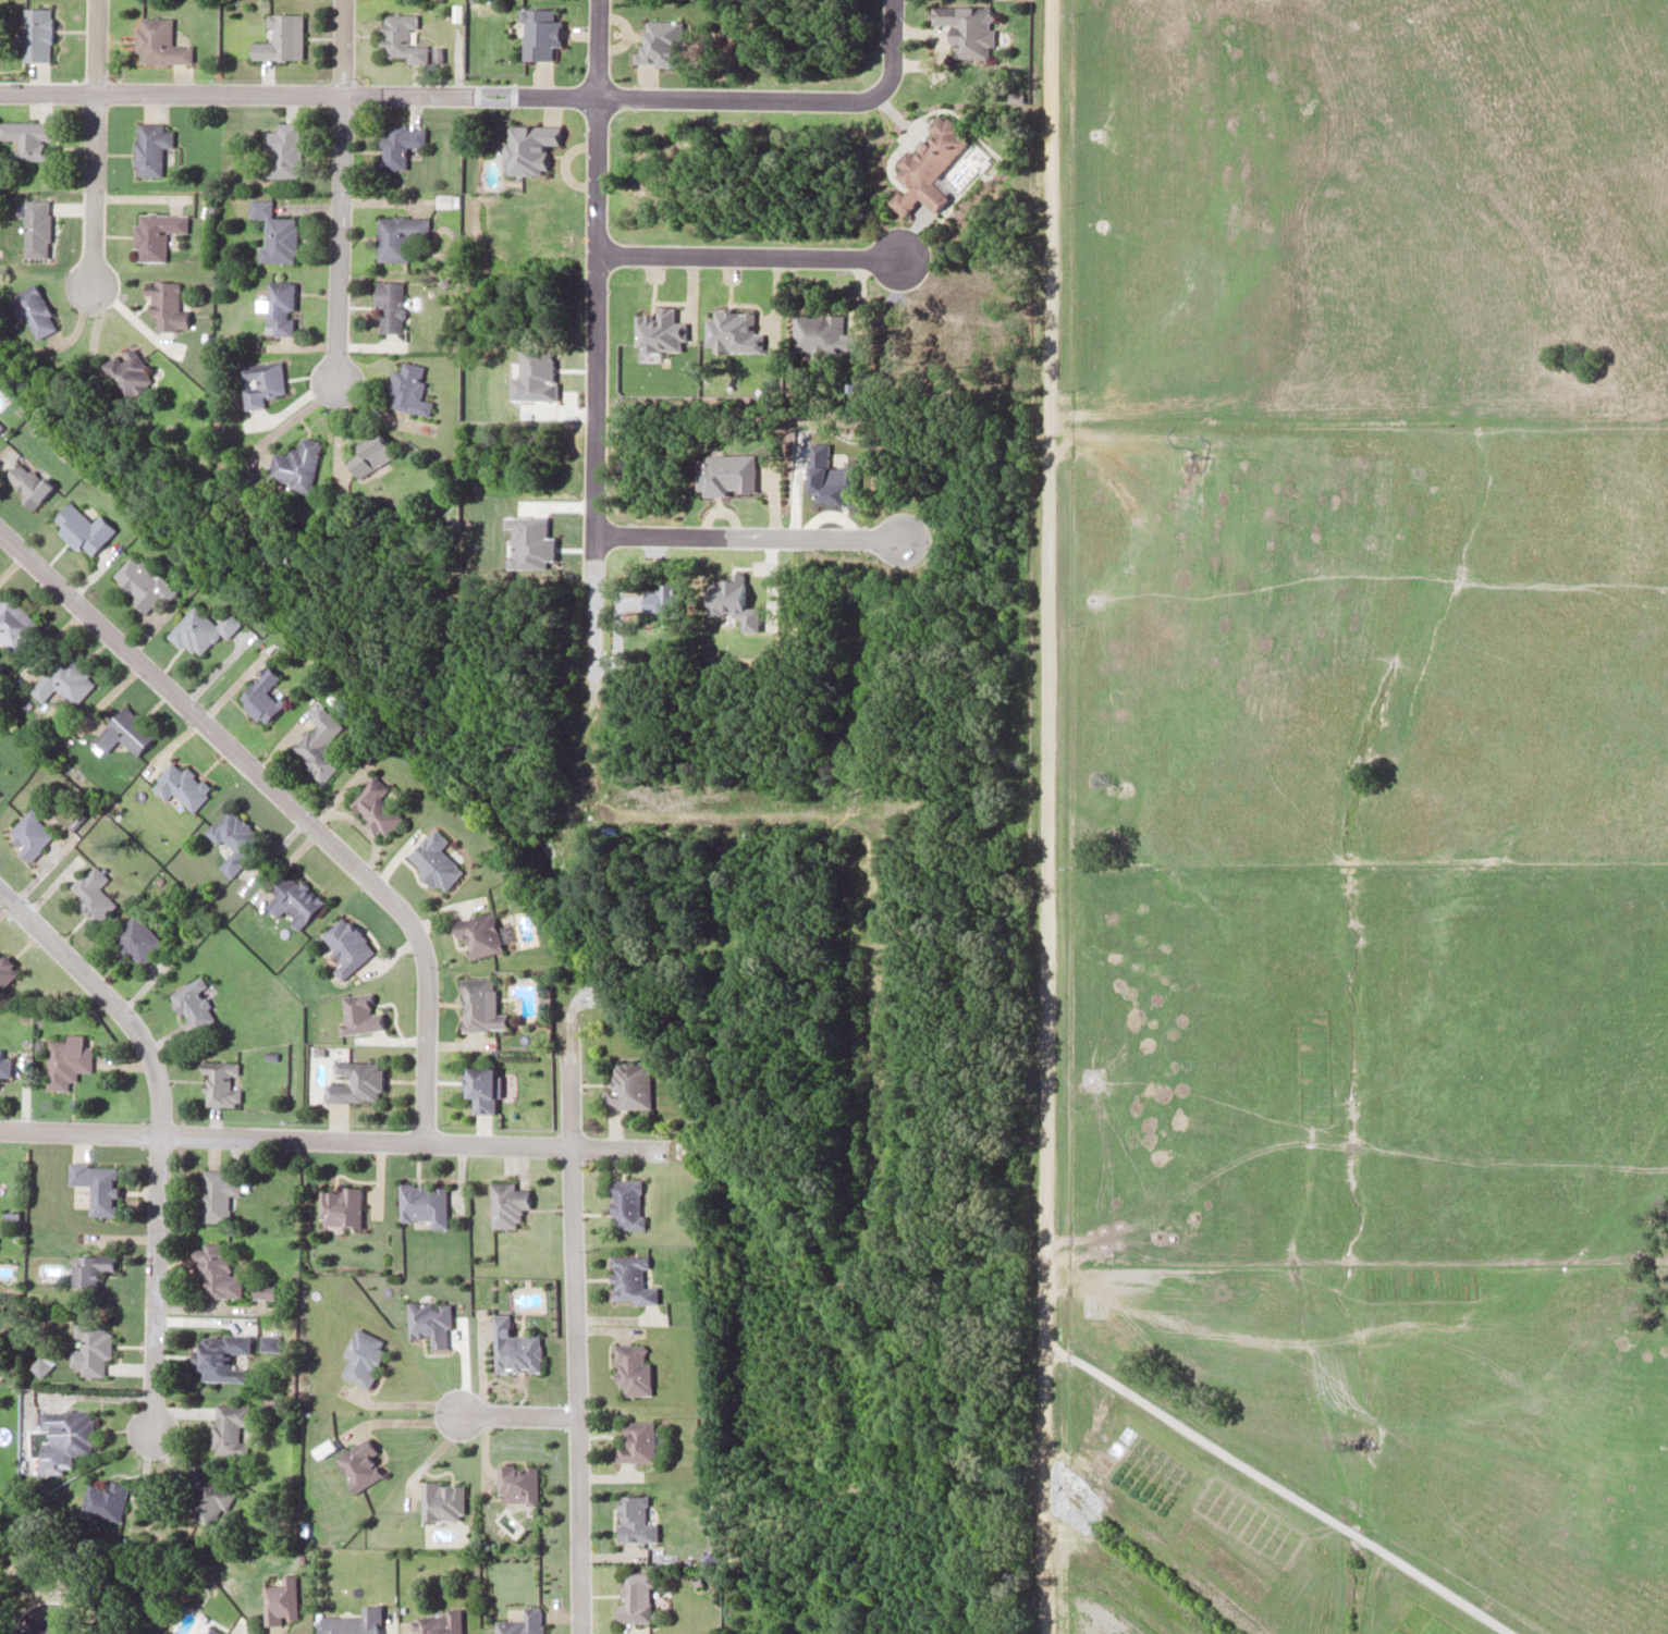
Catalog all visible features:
building: (966, 28)
building: (37, 33)
building: (281, 37)
building: (400, 37)
building: (159, 42)
road: (890, 45)
road: (95, 46)
road: (342, 46)
road: (441, 94)
building: (28, 137)
building: (398, 144)
building: (151, 147)
building: (282, 150)
building: (927, 163)
road: (91, 189)
building: (37, 228)
building: (275, 232)
building: (156, 233)
building: (397, 235)
road: (339, 237)
road: (747, 254)
road: (593, 285)
building: (167, 305)
building: (390, 305)
building: (280, 306)
building: (35, 311)
building: (817, 331)
building: (130, 371)
building: (261, 381)
building: (409, 388)
building: (0, 425)
building: (295, 465)
building: (26, 481)
building: (82, 528)
road: (747, 538)
building: (142, 582)
building: (590, 598)
building: (14, 624)
building: (200, 629)
building: (63, 679)
building: (259, 696)
building: (123, 732)
building: (317, 752)
building: (180, 784)
road: (286, 802)
building: (375, 806)
road: (1048, 816)
building: (29, 833)
building: (233, 838)
building: (434, 859)
building: (91, 894)
building: (293, 898)
building: (478, 933)
building: (137, 938)
building: (346, 945)
building: (5, 971)
road: (107, 998)
building: (193, 1003)
building: (480, 1005)
building: (360, 1012)
building: (66, 1060)
building: (4, 1066)
building: (356, 1081)
building: (220, 1083)
building: (628, 1086)
building: (480, 1088)
road: (332, 1139)
building: (98, 1187)
building: (216, 1194)
building: (421, 1203)
building: (507, 1203)
building: (625, 1203)
building: (339, 1207)
building: (89, 1269)
building: (218, 1271)
building: (629, 1282)
road: (155, 1285)
building: (428, 1322)
road: (572, 1325)
building: (91, 1348)
building: (513, 1348)
building: (220, 1356)
building: (361, 1356)
building: (41, 1364)
building: (631, 1369)
road: (513, 1414)
building: (229, 1428)
building: (65, 1437)
building: (635, 1441)
building: (358, 1463)
building: (516, 1484)
road: (1276, 1489)
building: (206, 1498)
building: (105, 1500)
building: (441, 1500)
building: (633, 1519)
building: (634, 1596)
building: (281, 1599)
building: (352, 1622)
building: (439, 1622)
building: (520, 1622)
building: (212, 1631)

